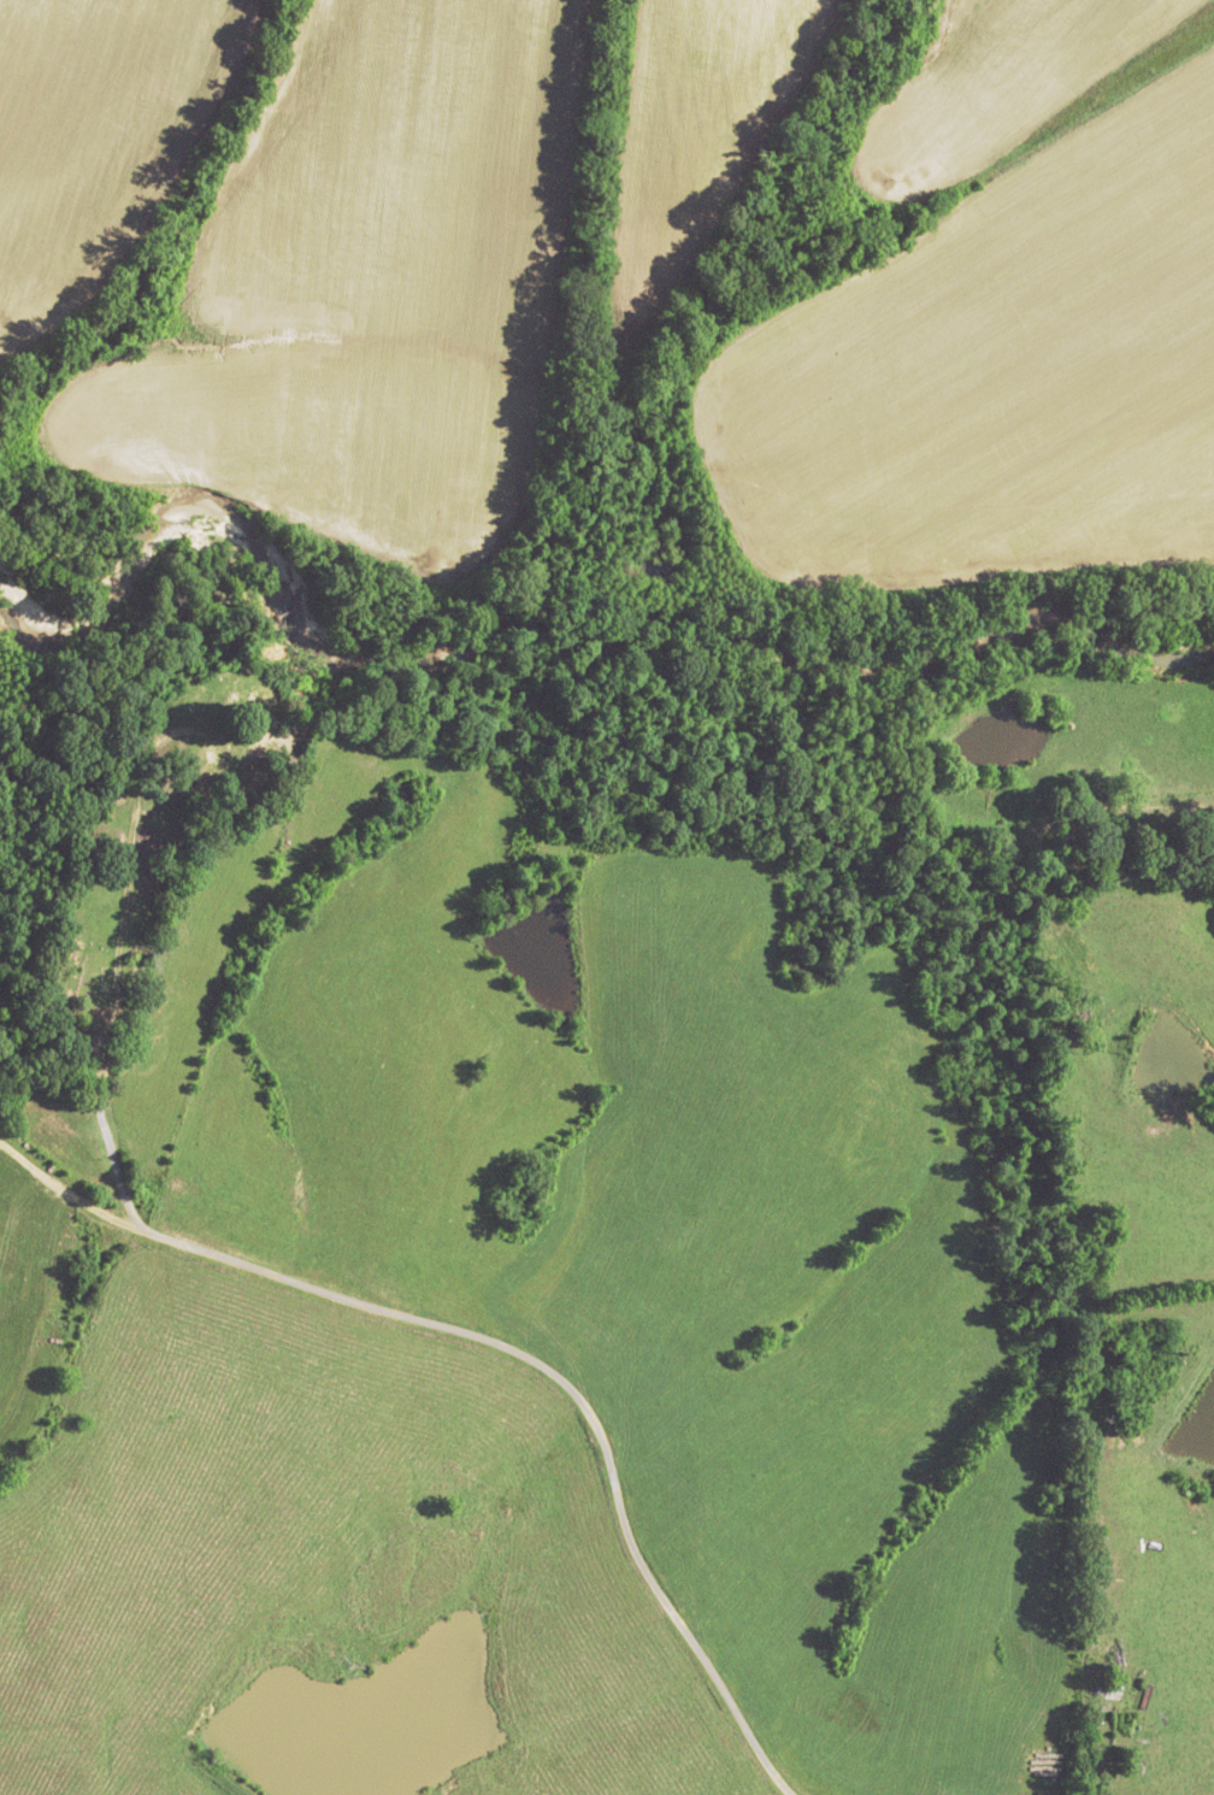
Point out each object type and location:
road: (485, 1394)
building: (1094, 1694)

